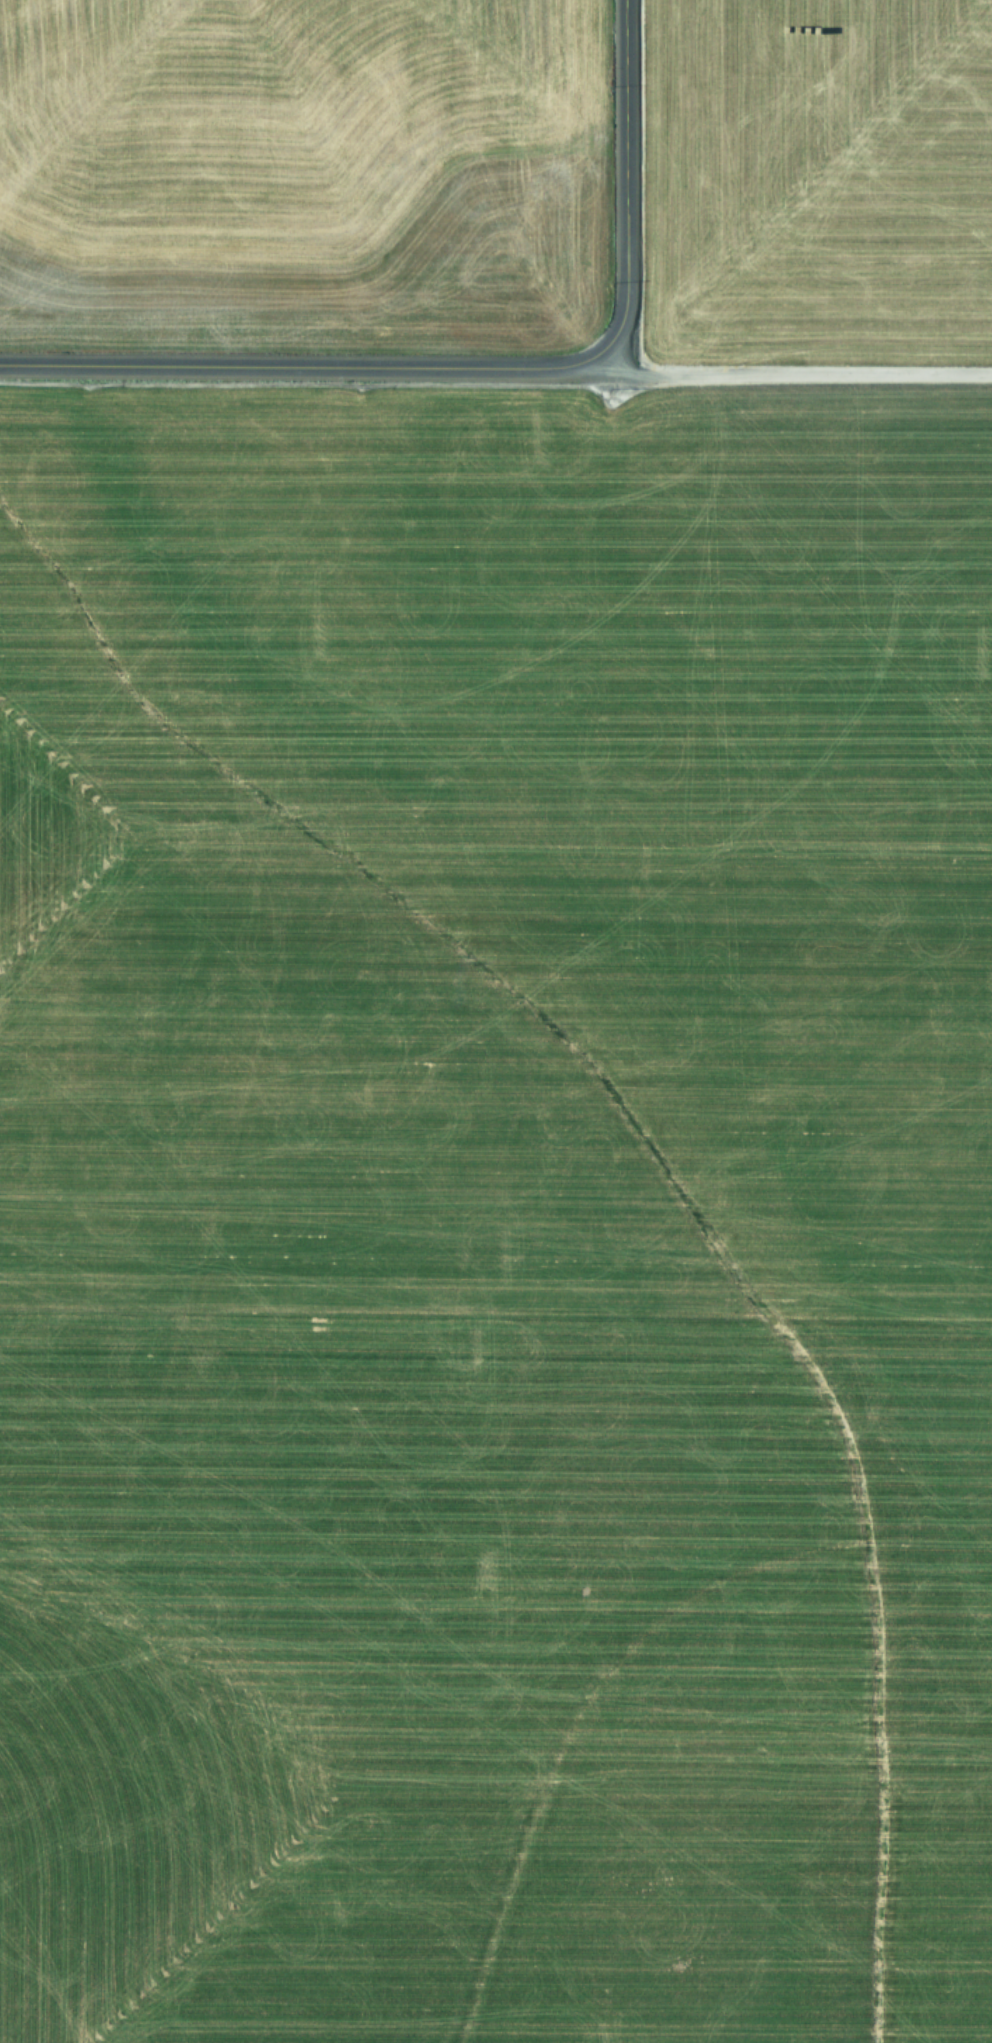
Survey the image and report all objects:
road: (479, 368)
crop: (496, 1021)

